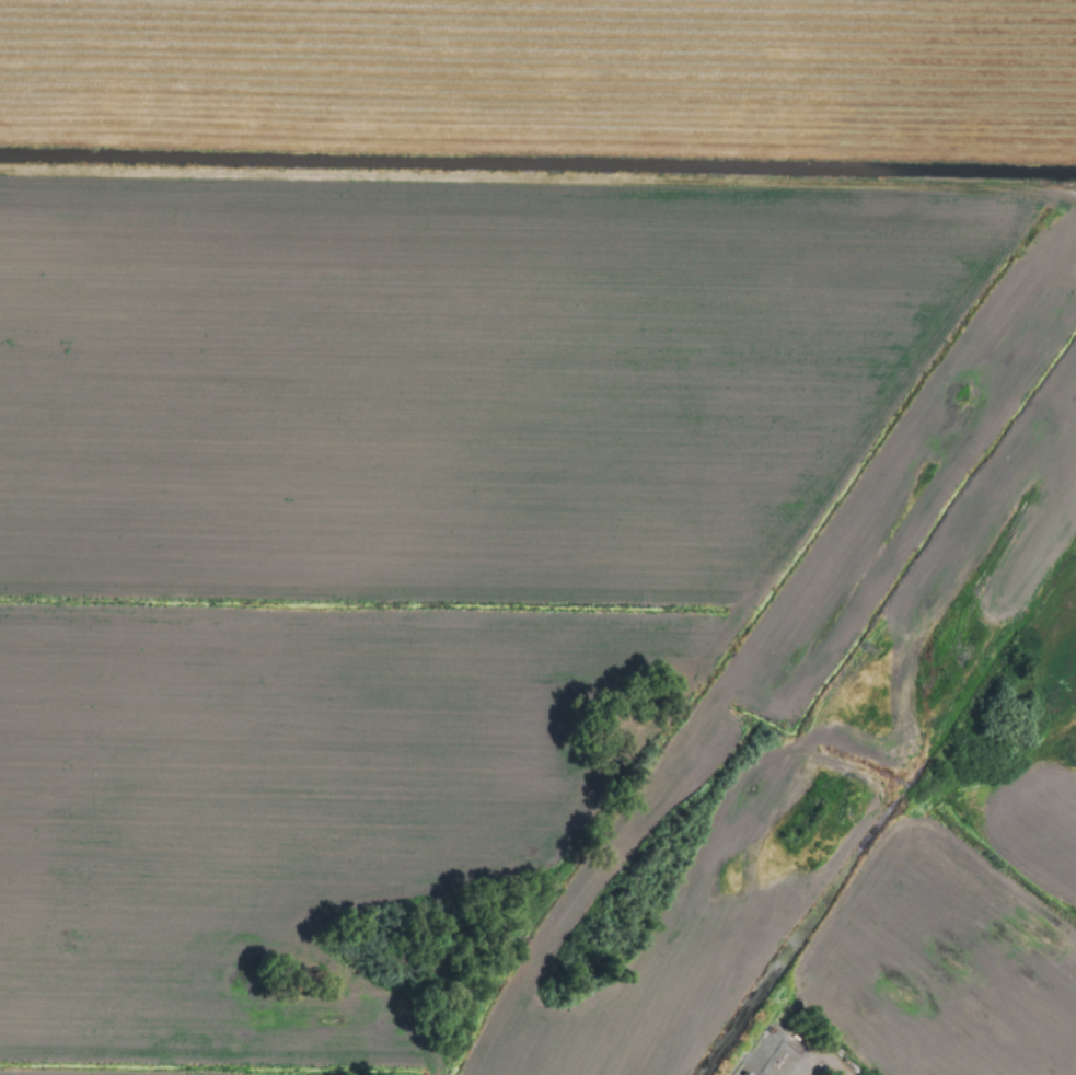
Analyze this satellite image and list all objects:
crop: (537, 537)

